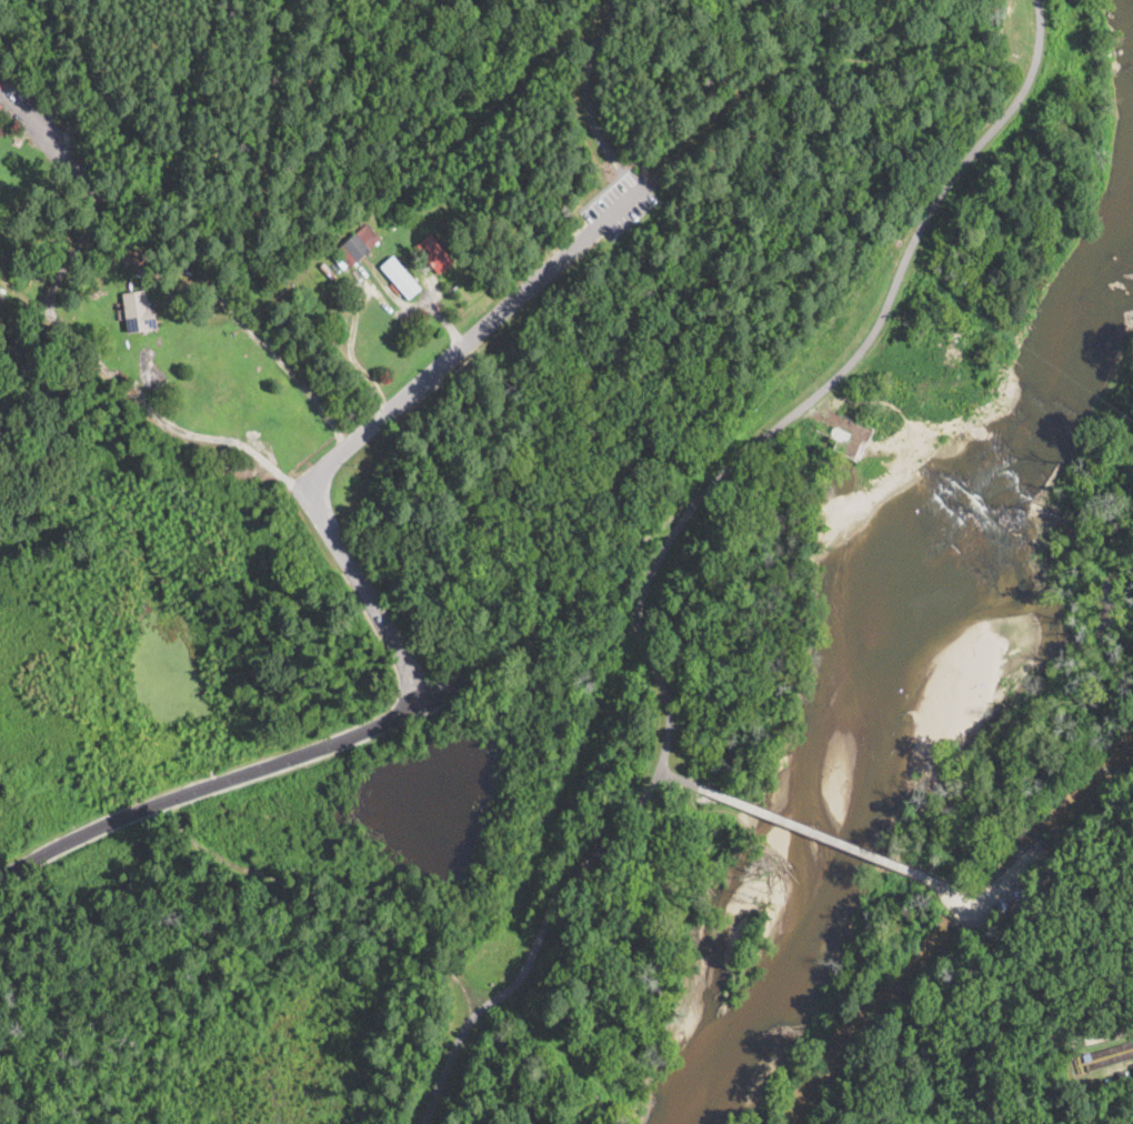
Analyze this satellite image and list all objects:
road: (829, 58)
building: (0, 84)
road: (588, 99)
building: (0, 104)
building: (17, 140)
building: (492, 197)
parking lot: (623, 201)
parking lot: (615, 208)
road: (615, 208)
building: (358, 243)
park: (508, 251)
building: (434, 252)
building: (136, 254)
building: (400, 277)
road: (417, 303)
building: (139, 311)
road: (77, 338)
river: (1052, 344)
road: (284, 361)
building: (840, 434)
road: (353, 439)
road: (750, 450)
road: (561, 611)
river: (844, 757)
road: (208, 786)
road: (799, 823)
road: (1027, 861)
park: (1021, 890)
parking lot: (1001, 897)
road: (322, 906)
road: (957, 907)
road: (543, 927)
park: (271, 1008)
road: (1040, 1017)
road: (467, 1022)
river: (699, 1071)
building: (1120, 1075)

